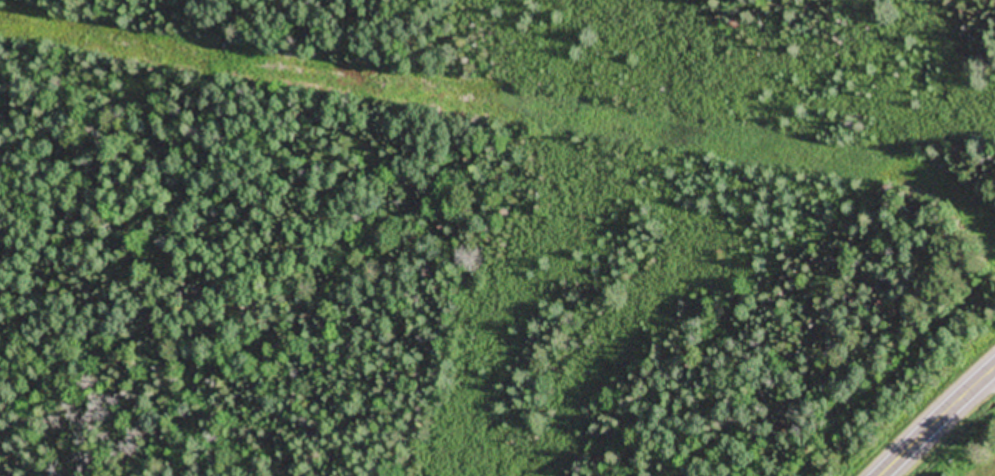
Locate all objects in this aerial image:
road: (937, 423)
park: (960, 443)

